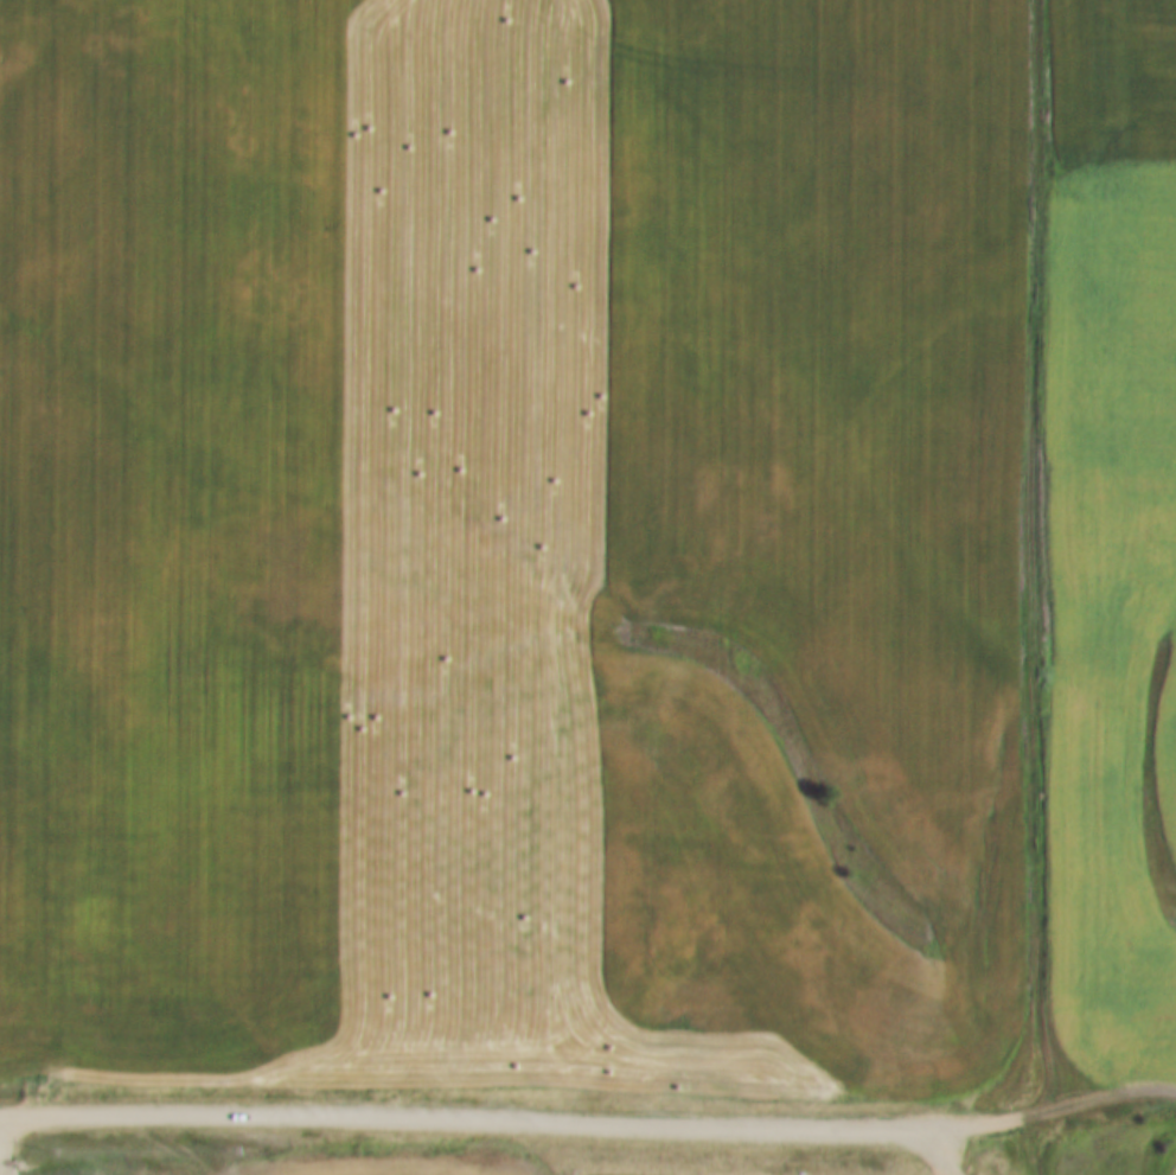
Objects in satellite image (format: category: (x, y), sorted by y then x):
road: (1033, 587)
road: (0, 1115)
road: (589, 1122)
road: (1, 1145)

